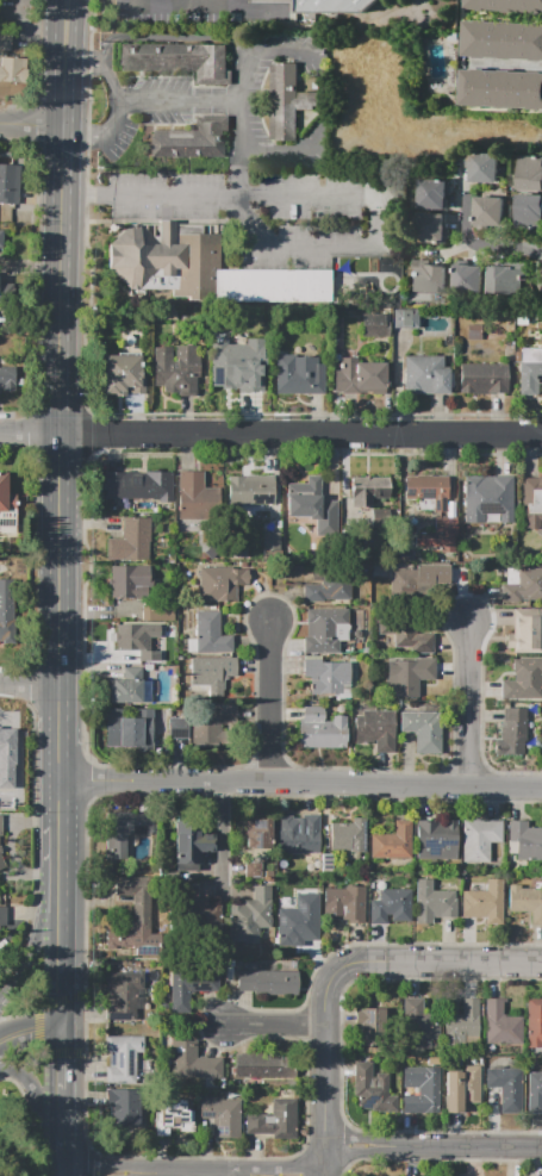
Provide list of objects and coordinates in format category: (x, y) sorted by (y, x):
road: (138, 4)
road: (189, 4)
building: (332, 6)
building: (504, 6)
road: (163, 7)
parking lot: (154, 10)
road: (156, 38)
building: (5, 41)
building: (500, 41)
road: (275, 52)
building: (179, 60)
road: (55, 63)
road: (71, 63)
road: (509, 64)
building: (13, 69)
building: (499, 89)
road: (117, 101)
road: (177, 101)
building: (285, 102)
road: (237, 120)
road: (31, 125)
building: (192, 139)
road: (285, 153)
building: (480, 168)
building: (528, 173)
building: (10, 182)
building: (429, 194)
road: (74, 198)
road: (167, 199)
road: (312, 199)
building: (528, 209)
building: (486, 211)
building: (428, 229)
building: (1, 238)
road: (476, 244)
road: (313, 254)
building: (164, 260)
building: (388, 265)
road: (32, 266)
building: (426, 278)
building: (466, 279)
building: (499, 280)
building: (272, 285)
building: (6, 292)
building: (404, 317)
building: (373, 324)
building: (238, 365)
building: (174, 368)
building: (530, 371)
building: (425, 374)
building: (297, 375)
building: (119, 377)
building: (357, 377)
building: (6, 378)
building: (482, 378)
road: (270, 435)
road: (58, 454)
building: (137, 486)
building: (428, 490)
building: (249, 491)
building: (6, 496)
building: (189, 496)
building: (365, 496)
building: (531, 496)
building: (486, 498)
building: (303, 499)
building: (376, 517)
building: (441, 535)
building: (269, 540)
building: (129, 542)
building: (411, 577)
building: (127, 581)
building: (222, 585)
building: (328, 586)
building: (524, 587)
building: (7, 610)
building: (157, 614)
building: (320, 630)
building: (404, 633)
building: (208, 635)
building: (525, 635)
building: (135, 641)
building: (211, 670)
building: (324, 676)
building: (407, 676)
building: (523, 682)
road: (29, 684)
building: (126, 686)
road: (273, 702)
road: (471, 704)
building: (197, 729)
building: (319, 730)
building: (374, 730)
building: (424, 732)
building: (512, 732)
building: (127, 735)
building: (4, 763)
road: (299, 783)
road: (57, 823)
building: (120, 833)
building: (255, 833)
building: (297, 835)
building: (348, 836)
road: (220, 838)
building: (478, 840)
building: (436, 841)
building: (391, 842)
building: (523, 842)
building: (1, 845)
building: (187, 848)
building: (306, 894)
building: (434, 902)
building: (525, 902)
building: (345, 903)
building: (485, 904)
building: (392, 906)
building: (198, 910)
building: (2, 916)
building: (249, 917)
building: (136, 921)
building: (291, 934)
road: (37, 938)
road: (61, 944)
road: (460, 962)
building: (266, 983)
building: (188, 988)
building: (120, 994)
road: (2, 998)
road: (306, 1022)
building: (417, 1022)
building: (461, 1023)
building: (534, 1023)
building: (369, 1025)
building: (500, 1026)
road: (31, 1031)
road: (324, 1043)
building: (122, 1059)
building: (192, 1063)
building: (262, 1068)
road: (64, 1079)
building: (368, 1082)
building: (505, 1089)
building: (420, 1091)
building: (461, 1091)
building: (534, 1094)
road: (37, 1095)
building: (123, 1107)
building: (222, 1116)
building: (170, 1120)
building: (273, 1121)
park: (15, 1133)
road: (345, 1147)
road: (468, 1147)
road: (2, 1151)
road: (19, 1151)
road: (105, 1155)
road: (64, 1156)
road: (437, 1159)
road: (324, 1169)
road: (76, 1175)

